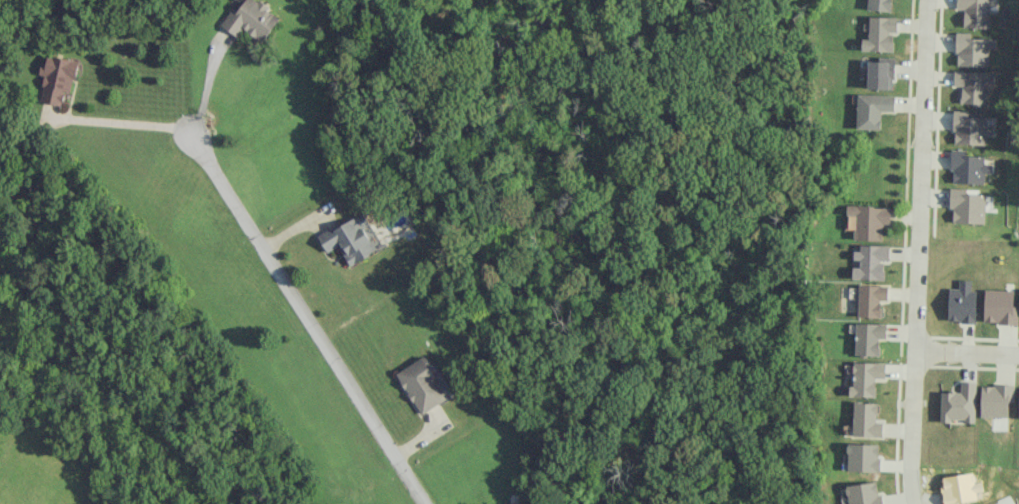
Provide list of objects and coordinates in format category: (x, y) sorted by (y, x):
building: (879, 5)
building: (974, 12)
building: (252, 19)
building: (880, 33)
building: (972, 49)
building: (880, 73)
building: (58, 78)
building: (972, 85)
road: (206, 88)
building: (872, 109)
road: (124, 122)
building: (969, 128)
building: (968, 167)
road: (920, 174)
building: (966, 206)
building: (869, 220)
building: (350, 238)
building: (870, 261)
building: (871, 299)
building: (962, 302)
building: (999, 306)
road: (309, 321)
building: (869, 338)
road: (967, 351)
building: (866, 377)
building: (424, 383)
building: (996, 399)
building: (959, 403)
building: (867, 419)
road: (912, 426)
building: (864, 457)
building: (864, 493)

